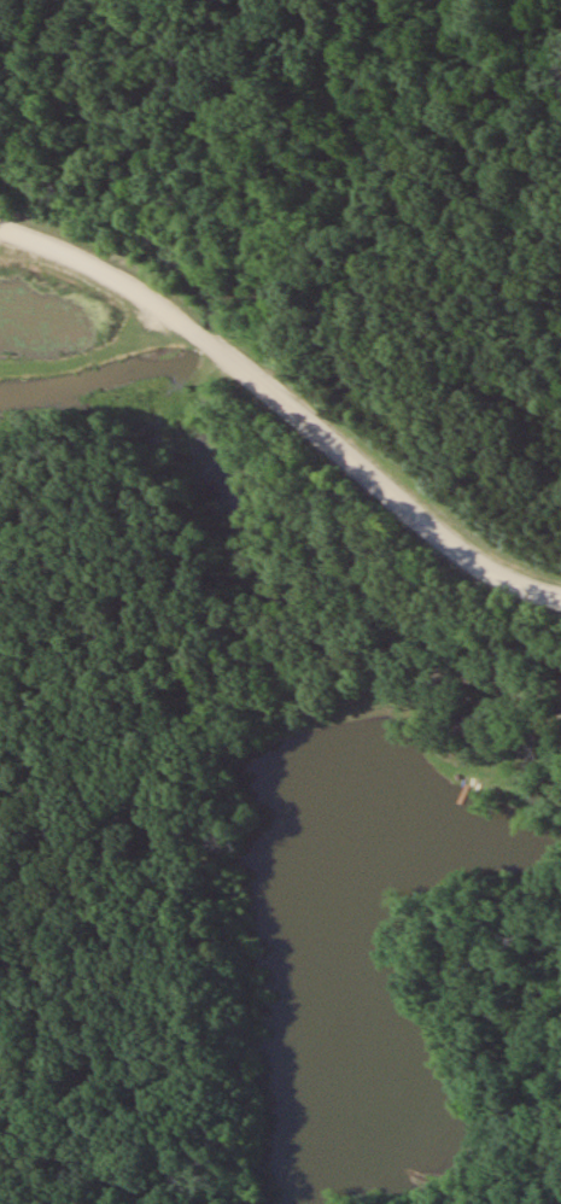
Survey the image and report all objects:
road: (285, 408)
park: (269, 660)
building: (464, 724)

